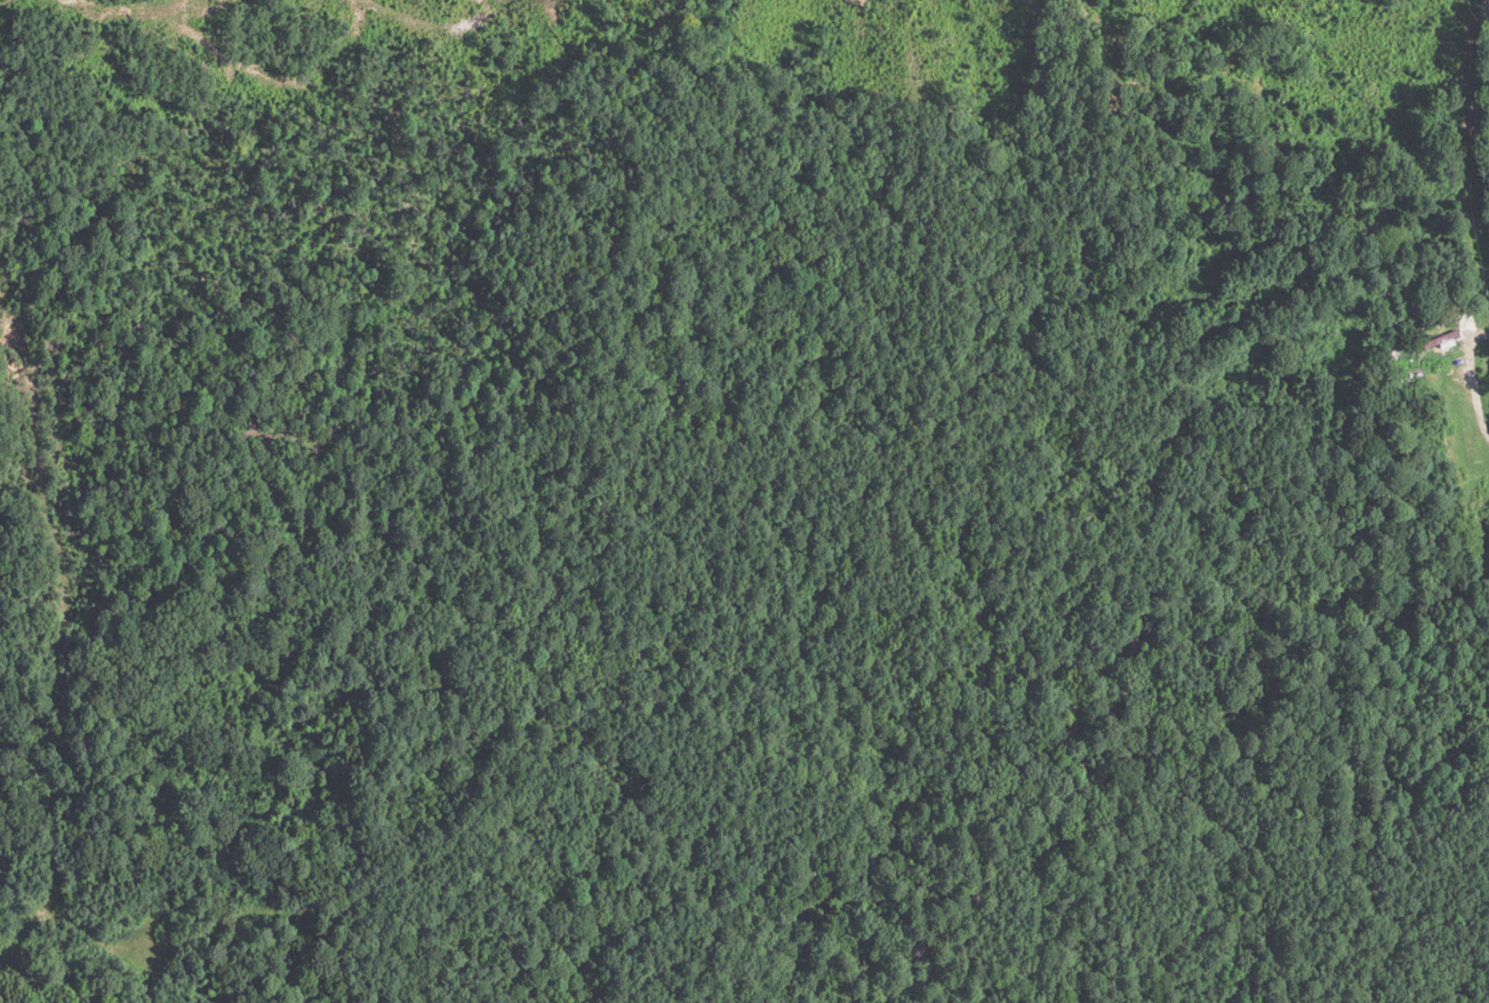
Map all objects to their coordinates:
building: (1472, 445)

